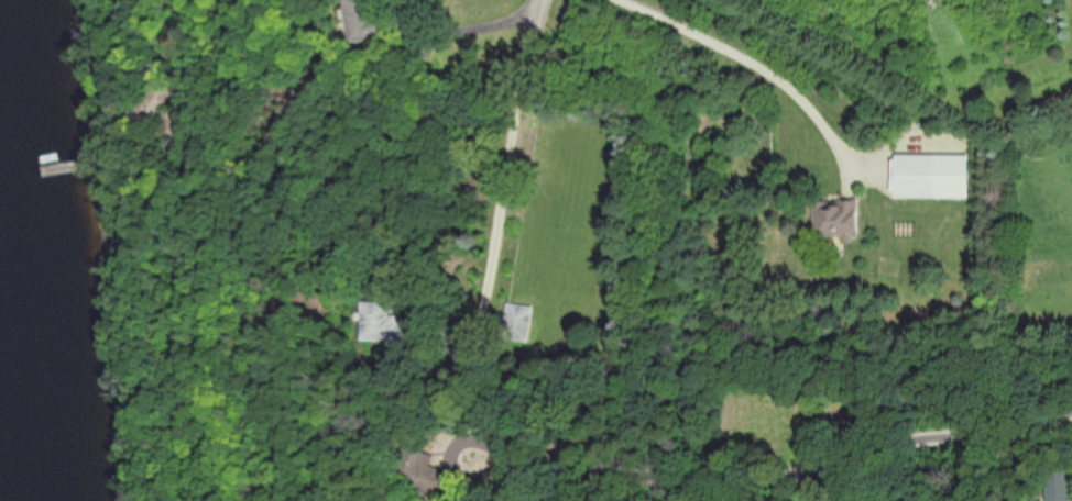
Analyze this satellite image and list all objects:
building: (370, 21)
road: (482, 24)
road: (737, 53)
building: (519, 323)
building: (391, 324)
road: (481, 324)
road: (914, 467)

